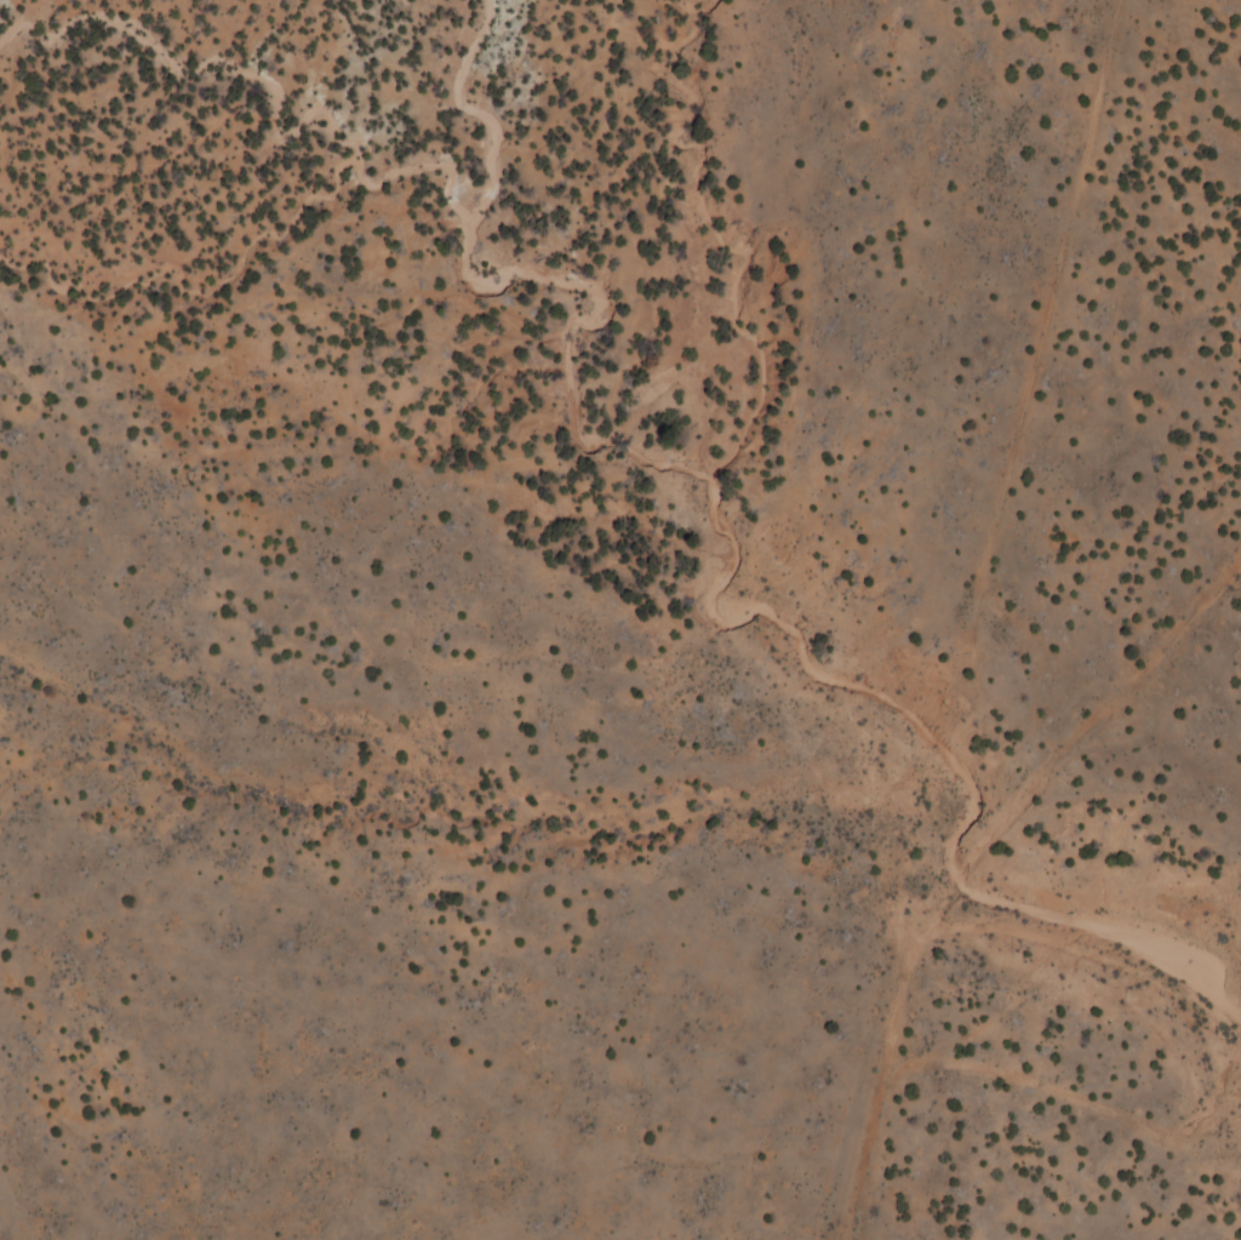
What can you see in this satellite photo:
road: (17, 17)

